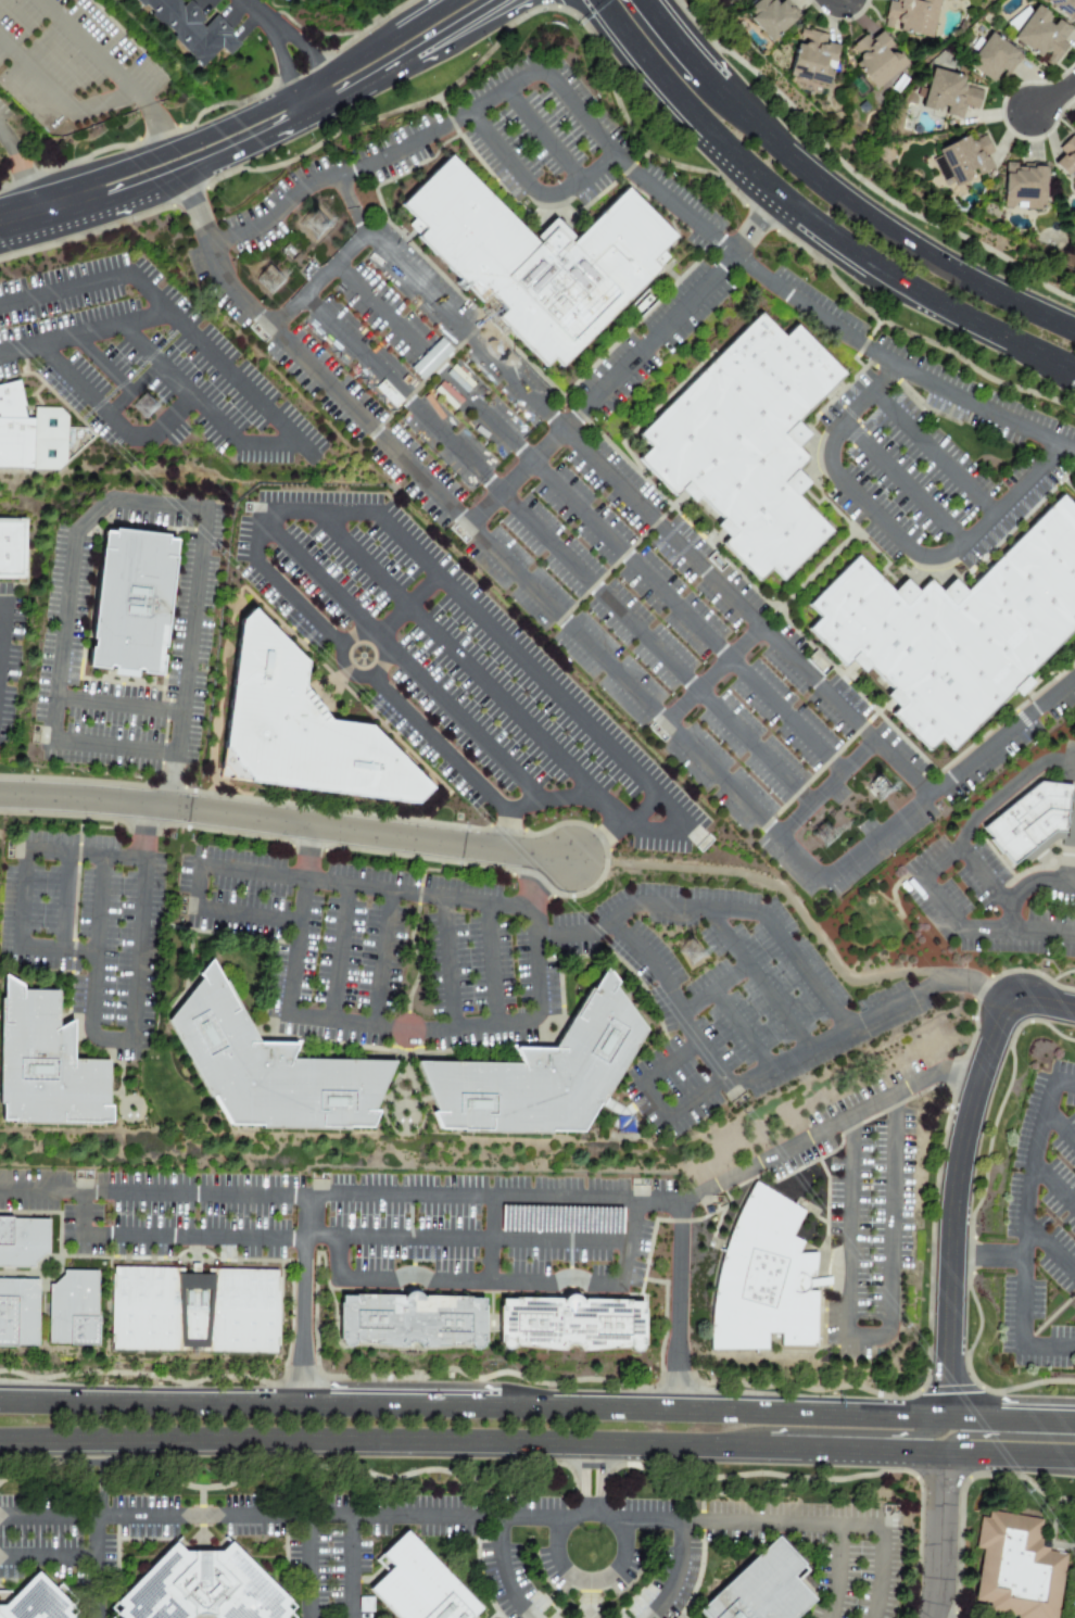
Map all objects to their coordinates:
building: (1063, 8)
building: (771, 16)
building: (910, 16)
building: (191, 30)
road: (280, 35)
building: (1040, 36)
road: (674, 41)
road: (88, 45)
road: (425, 52)
building: (811, 58)
building: (875, 59)
building: (992, 59)
road: (339, 92)
road: (60, 93)
building: (948, 93)
road: (1054, 98)
road: (260, 104)
road: (304, 112)
road: (155, 114)
road: (313, 126)
road: (0, 130)
road: (543, 136)
building: (964, 159)
building: (1066, 159)
road: (376, 161)
road: (233, 163)
road: (23, 168)
building: (1023, 186)
road: (531, 188)
road: (131, 204)
road: (38, 210)
road: (199, 213)
road: (806, 220)
road: (880, 223)
power tower: (319, 226)
building: (542, 260)
road: (318, 280)
power tower: (273, 281)
road: (62, 288)
road: (784, 293)
road: (81, 333)
road: (212, 356)
road: (625, 362)
road: (1074, 370)
road: (178, 383)
road: (91, 399)
power tower: (148, 408)
road: (173, 418)
building: (31, 432)
road: (268, 442)
building: (751, 442)
road: (932, 452)
road: (901, 481)
road: (622, 492)
road: (156, 505)
road: (316, 513)
road: (587, 517)
road: (257, 534)
road: (894, 534)
building: (13, 549)
road: (555, 549)
road: (510, 566)
road: (2, 604)
road: (298, 605)
road: (65, 611)
road: (401, 611)
building: (132, 618)
road: (2, 625)
building: (960, 631)
road: (188, 633)
road: (371, 646)
road: (400, 659)
road: (524, 668)
road: (710, 674)
road: (485, 683)
road: (117, 705)
building: (304, 743)
road: (434, 743)
road: (112, 748)
road: (949, 778)
road: (168, 783)
road: (822, 788)
power tower: (883, 789)
road: (1007, 789)
road: (549, 798)
building: (1032, 822)
road: (287, 823)
road: (676, 825)
road: (614, 827)
road: (506, 831)
road: (146, 833)
power tower: (826, 837)
road: (306, 851)
road: (85, 854)
road: (939, 863)
road: (1035, 881)
road: (355, 884)
road: (193, 885)
road: (989, 886)
road: (782, 890)
road: (22, 896)
road: (64, 899)
road: (938, 901)
road: (695, 909)
road: (244, 913)
road: (1014, 931)
road: (571, 934)
road: (93, 941)
road: (55, 946)
road: (294, 946)
road: (139, 948)
road: (338, 952)
power tower: (695, 956)
road: (382, 959)
road: (447, 962)
road: (491, 962)
road: (535, 970)
road: (805, 972)
road: (757, 978)
road: (981, 985)
road: (713, 987)
road: (674, 998)
road: (1045, 1004)
road: (741, 1028)
road: (406, 1033)
road: (838, 1034)
road: (110, 1040)
road: (672, 1062)
building: (50, 1064)
building: (275, 1070)
building: (547, 1074)
road: (962, 1077)
road: (1064, 1082)
road: (696, 1097)
road: (655, 1101)
road: (1060, 1127)
road: (1053, 1185)
road: (953, 1197)
road: (489, 1198)
road: (1024, 1211)
road: (81, 1215)
road: (890, 1215)
road: (848, 1226)
road: (353, 1239)
building: (23, 1240)
road: (489, 1240)
road: (625, 1243)
road: (1049, 1250)
road: (986, 1256)
road: (336, 1260)
building: (770, 1277)
road: (478, 1282)
road: (303, 1299)
building: (195, 1305)
road: (679, 1306)
building: (77, 1309)
building: (20, 1312)
building: (417, 1317)
building: (568, 1318)
road: (864, 1333)
road: (1048, 1345)
road: (537, 1407)
road: (988, 1430)
road: (537, 1442)
road: (901, 1442)
road: (587, 1478)
road: (515, 1515)
road: (47, 1516)
road: (252, 1516)
road: (827, 1517)
road: (94, 1529)
road: (941, 1542)
road: (351, 1543)
road: (47, 1558)
road: (834, 1568)
building: (1015, 1569)
road: (499, 1570)
road: (673, 1571)
building: (428, 1585)
building: (769, 1587)
building: (205, 1588)
road: (591, 1590)
building: (37, 1601)

